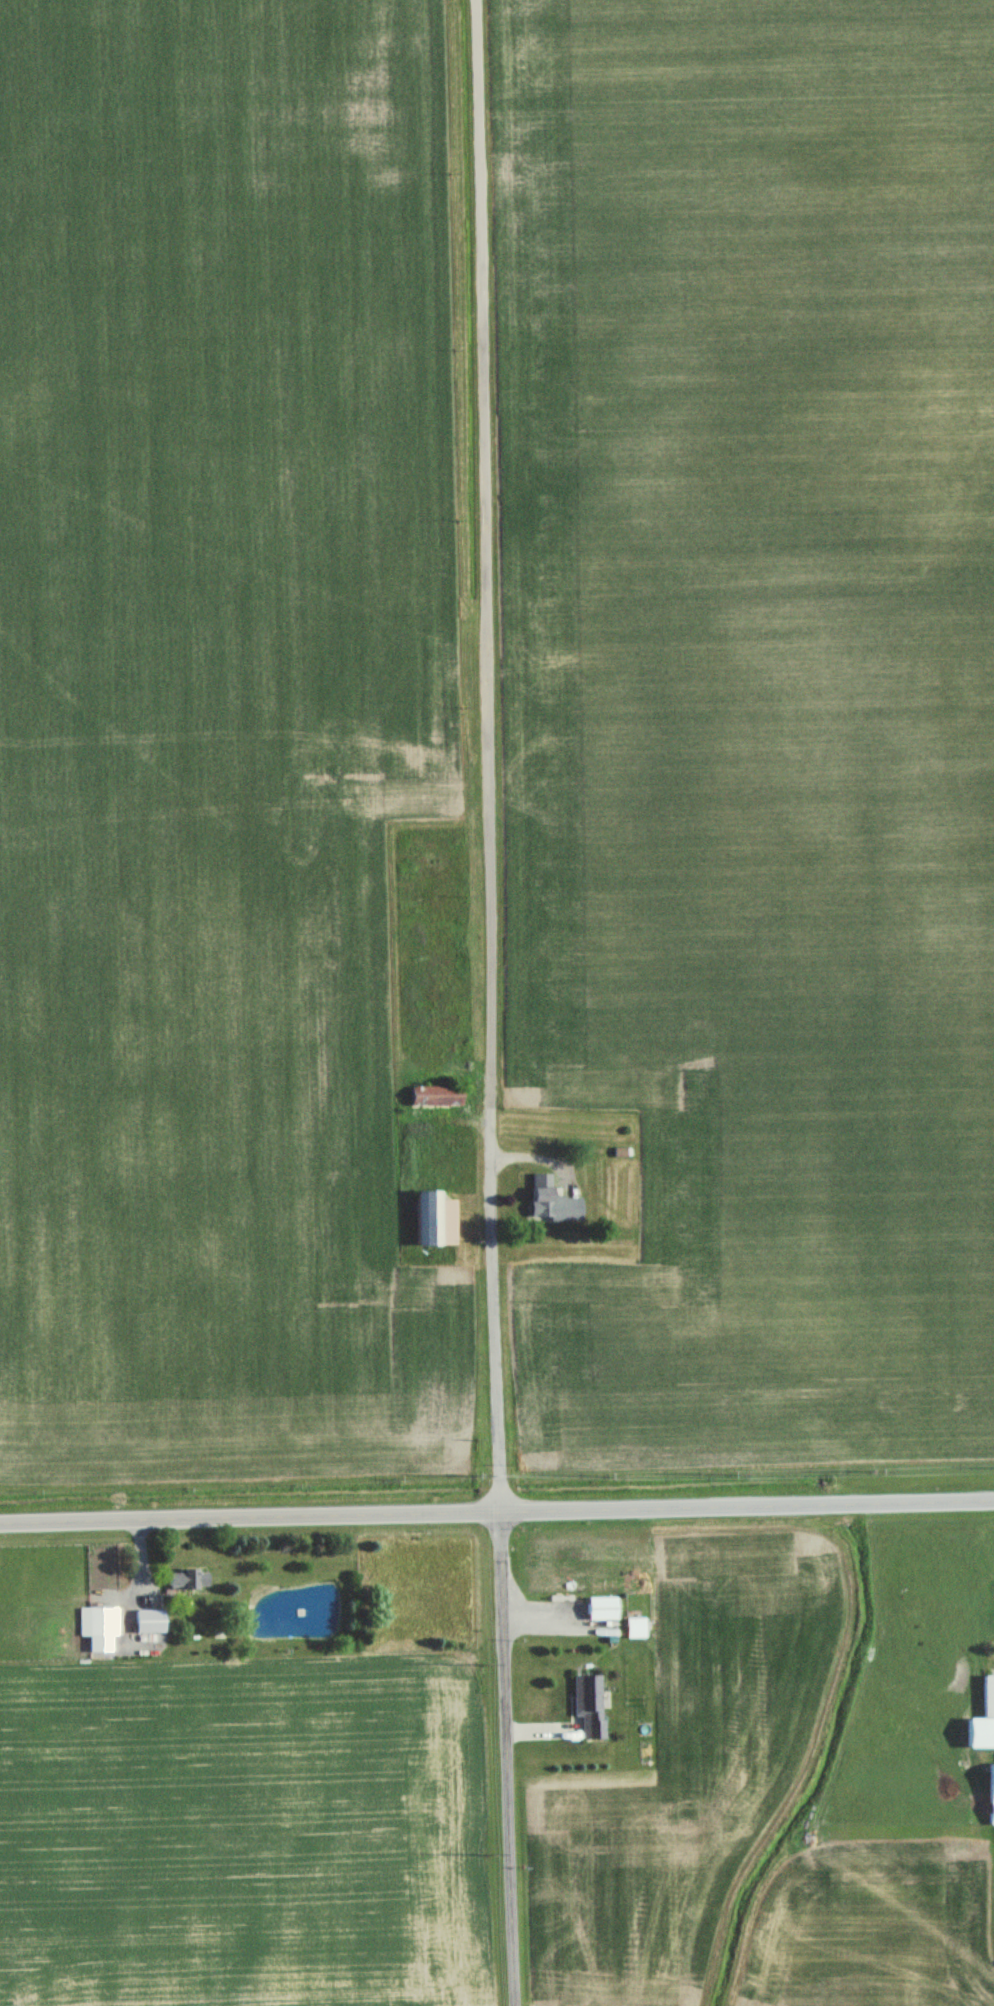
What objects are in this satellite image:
crop: (754, 708)
crop: (218, 737)
road: (483, 1003)
building: (432, 1096)
building: (549, 1202)
building: (431, 1220)
road: (497, 1514)
building: (187, 1581)
building: (602, 1610)
building: (149, 1622)
building: (99, 1623)
building: (632, 1628)
building: (590, 1707)
building: (982, 1719)
crop: (677, 1777)
building: (990, 1796)
crop: (248, 1830)
crop: (876, 1926)

